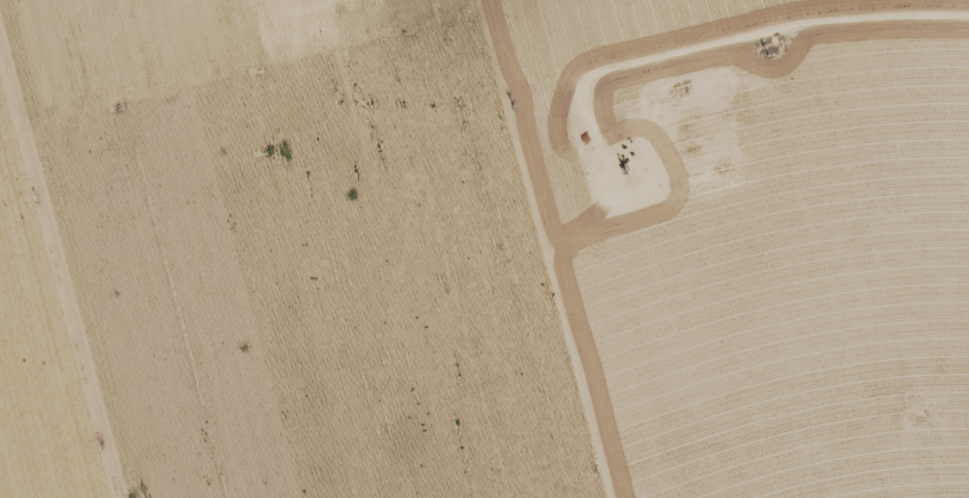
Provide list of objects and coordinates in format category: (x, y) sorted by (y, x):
road: (559, 42)
road: (471, 52)

